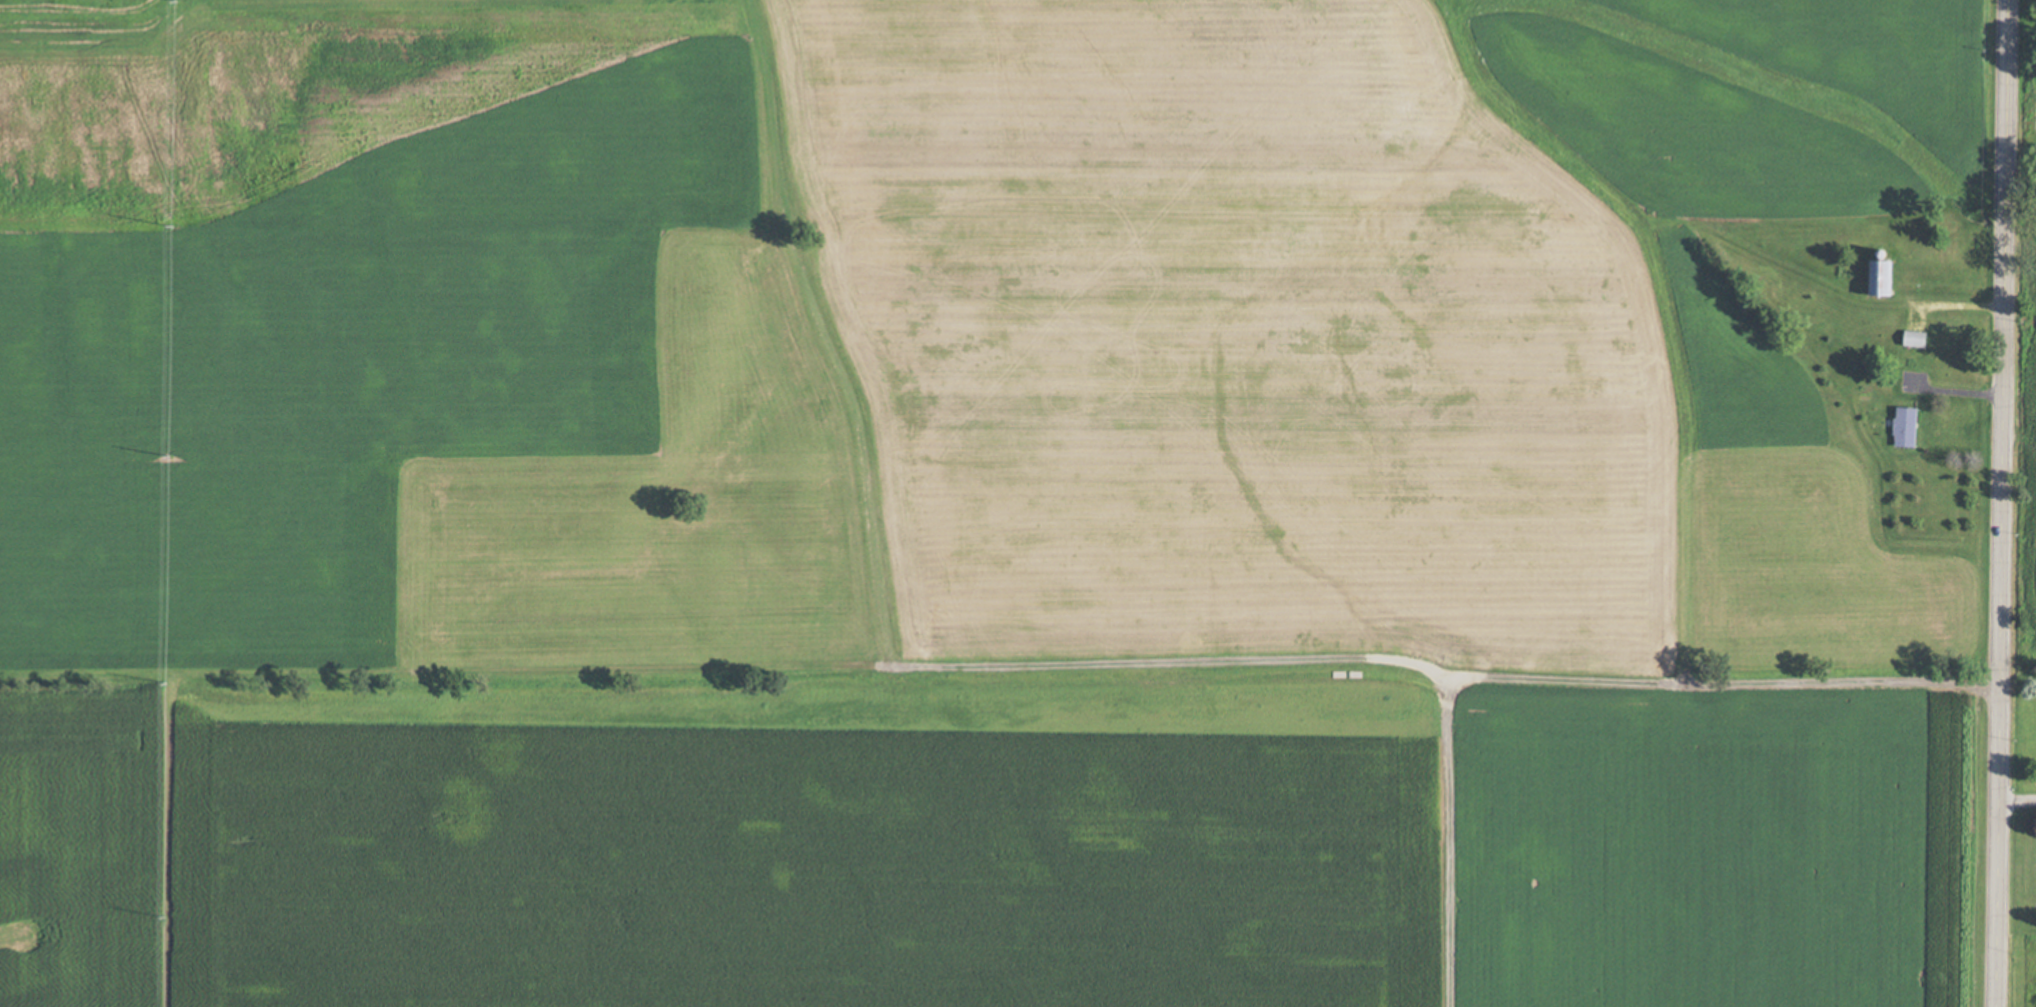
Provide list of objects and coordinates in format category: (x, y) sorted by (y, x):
building: (1882, 277)
building: (1951, 332)
building: (1916, 338)
building: (1907, 427)
road: (2000, 503)
road: (2016, 800)

